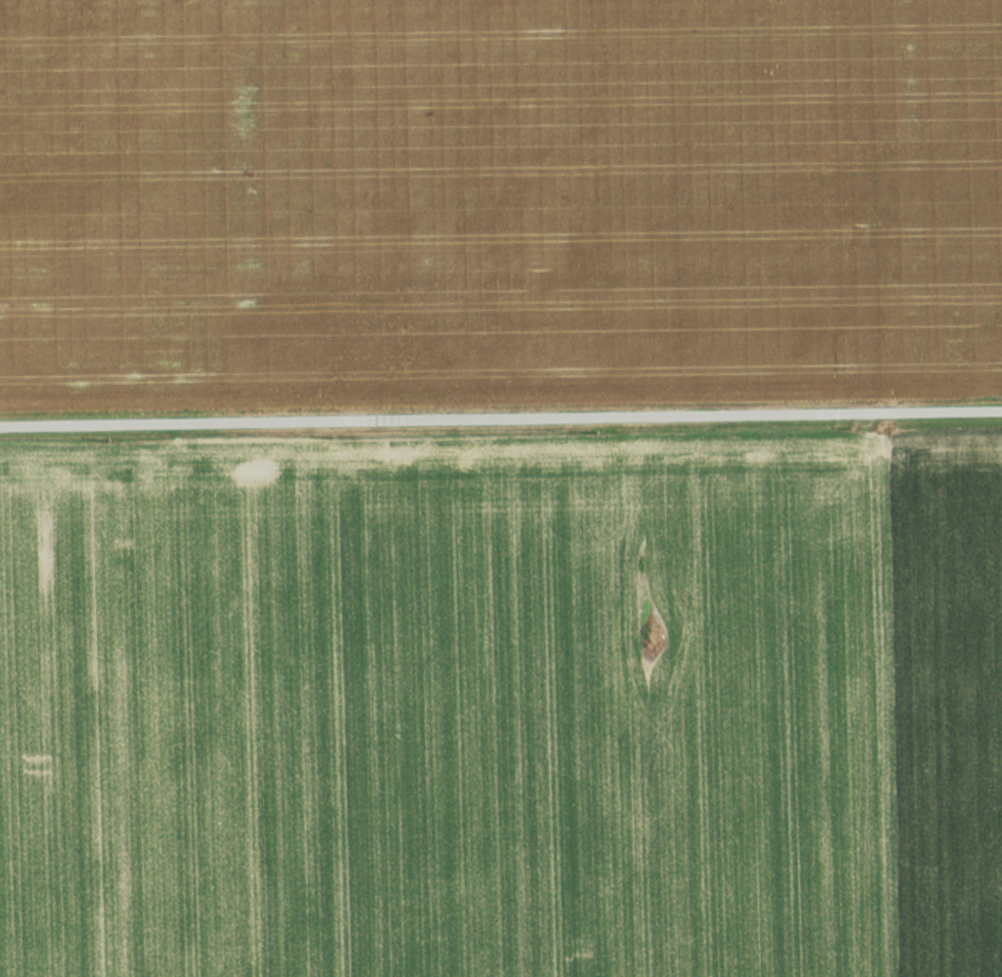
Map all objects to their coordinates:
crop: (498, 203)
road: (501, 422)
crop: (504, 710)

